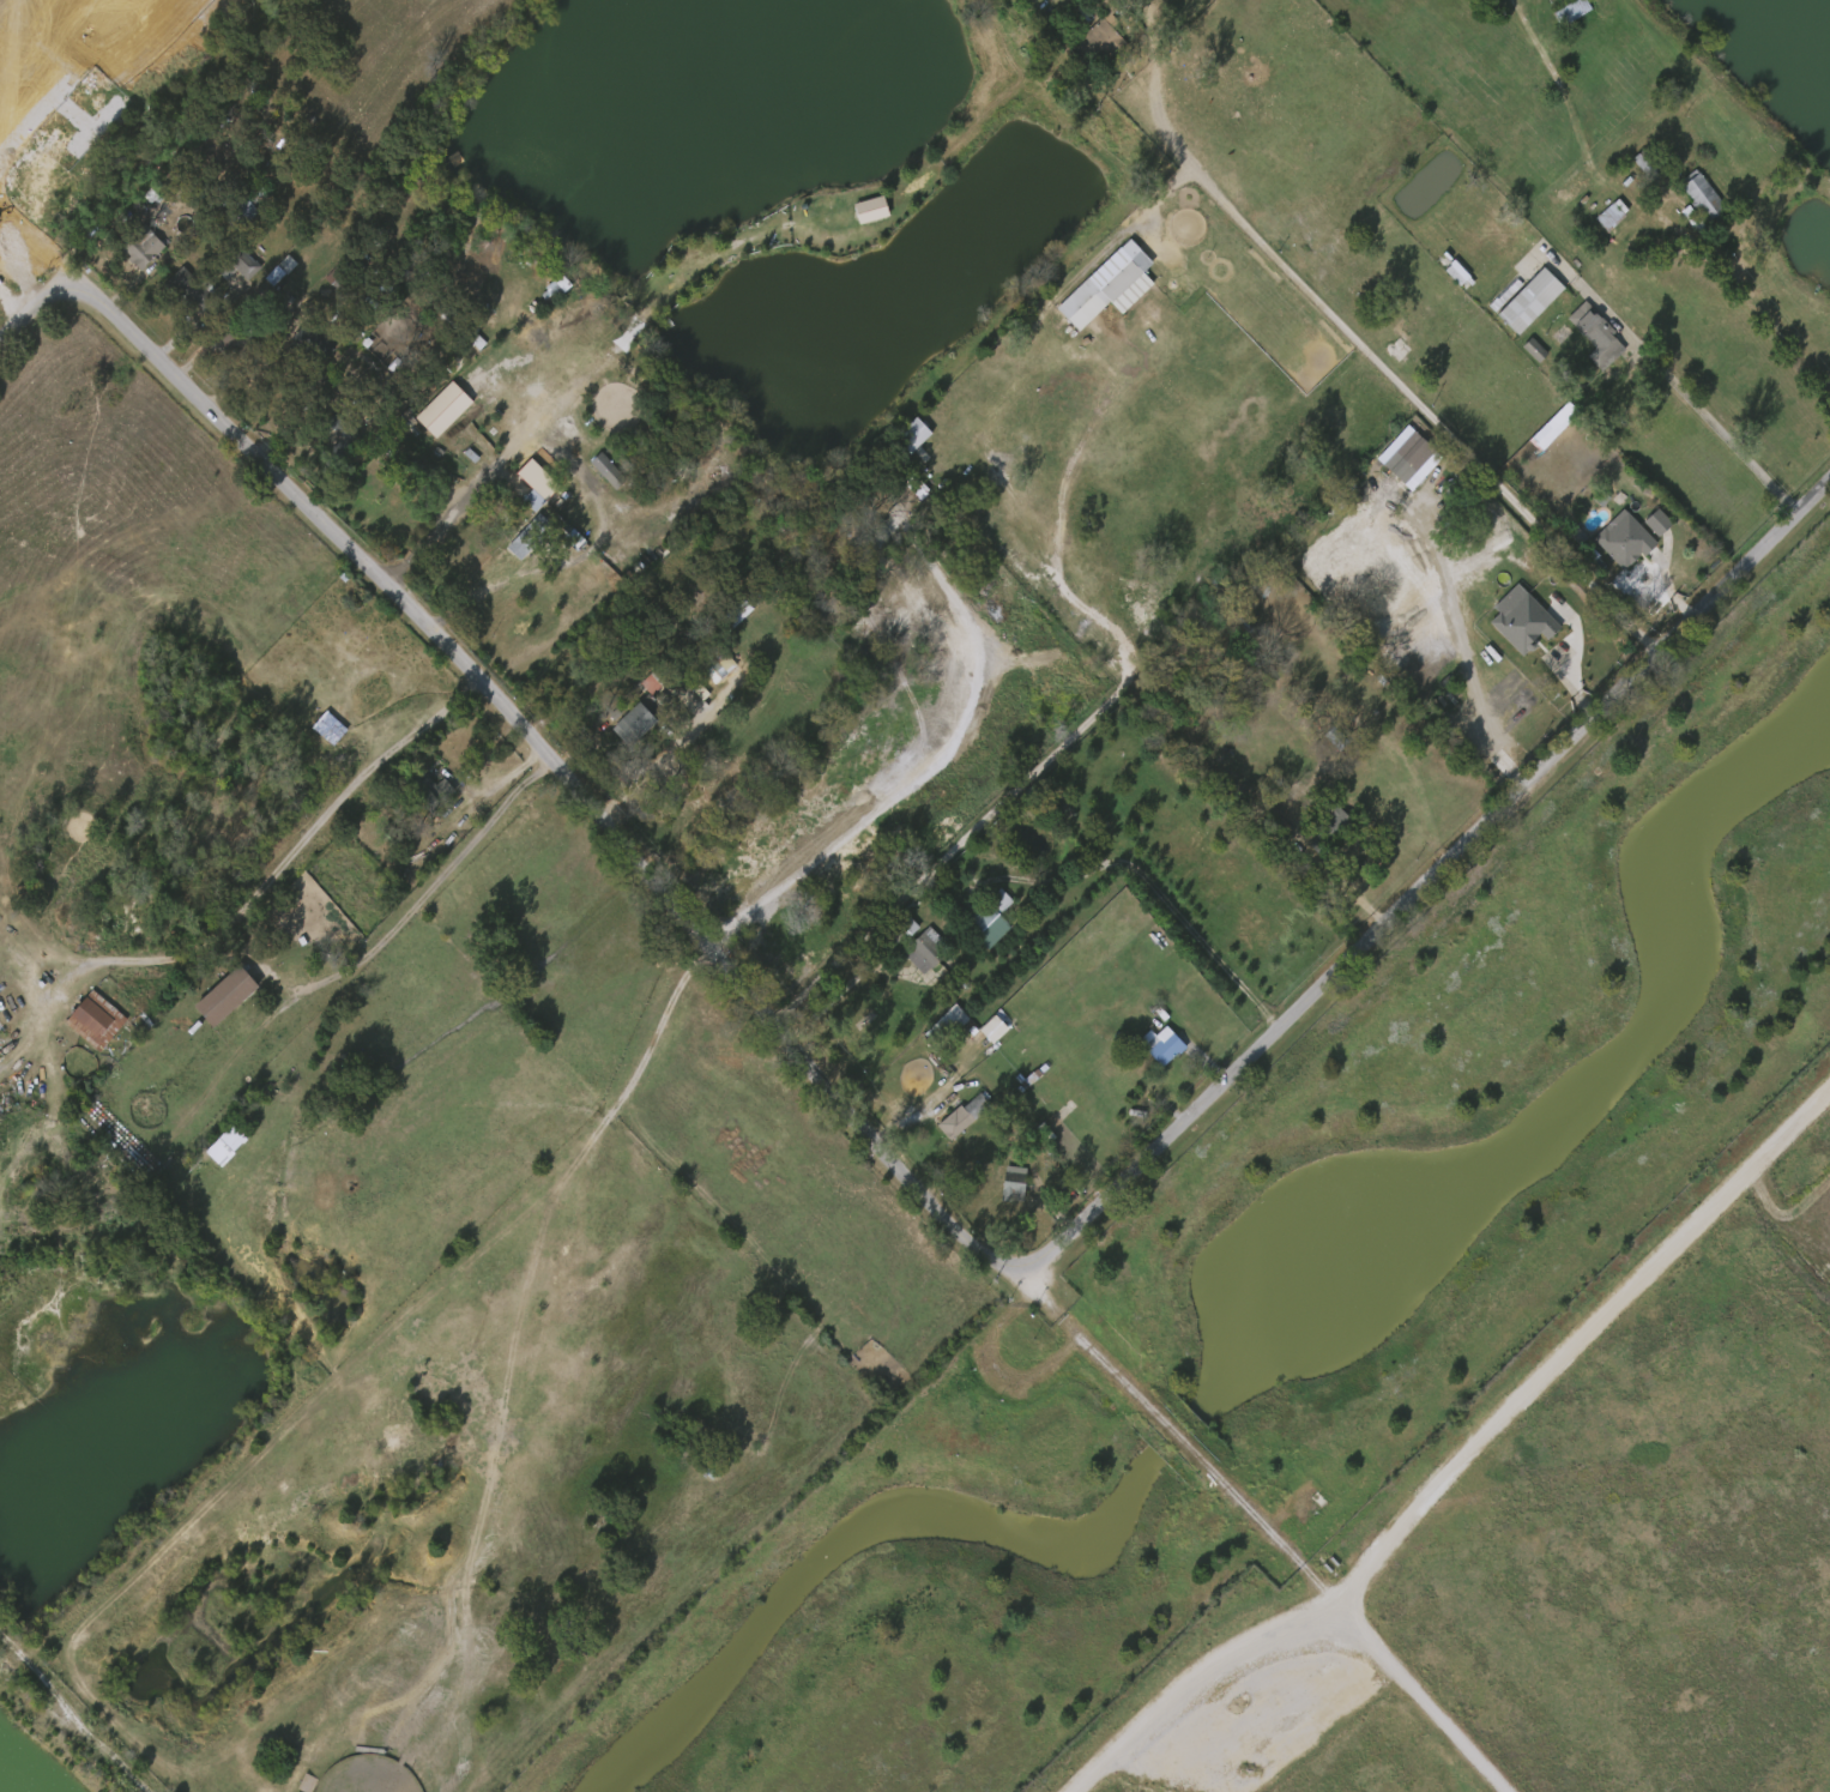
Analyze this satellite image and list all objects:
building: (1570, 11)
building: (1097, 38)
building: (1632, 162)
building: (1649, 163)
building: (1702, 195)
building: (1687, 198)
building: (244, 205)
building: (1611, 215)
building: (1598, 217)
road: (1107, 233)
building: (143, 246)
building: (131, 255)
building: (242, 263)
building: (267, 273)
building: (340, 274)
building: (1443, 276)
building: (174, 289)
building: (194, 289)
building: (1097, 289)
building: (1529, 301)
building: (1596, 336)
building: (240, 339)
building: (1582, 339)
building: (221, 344)
building: (314, 345)
road: (1345, 348)
building: (1521, 352)
building: (469, 402)
building: (454, 408)
road: (1705, 433)
building: (900, 436)
building: (344, 438)
building: (333, 445)
building: (470, 458)
building: (1394, 459)
building: (413, 470)
building: (594, 472)
building: (910, 472)
building: (517, 477)
building: (532, 479)
building: (902, 491)
building: (520, 502)
road: (433, 525)
building: (1643, 525)
building: (525, 537)
building: (1626, 538)
building: (732, 615)
building: (714, 660)
building: (654, 678)
building: (639, 717)
building: (620, 726)
building: (328, 728)
road: (523, 729)
building: (316, 730)
road: (925, 772)
building: (427, 789)
building: (1328, 828)
road: (1367, 839)
road: (1421, 870)
road: (1162, 898)
building: (985, 923)
building: (900, 930)
building: (339, 951)
building: (926, 951)
building: (912, 953)
road: (260, 959)
building: (213, 998)
road: (831, 1000)
building: (95, 1020)
building: (1161, 1045)
building: (914, 1082)
building: (1124, 1086)
building: (962, 1116)
building: (1014, 1184)
building: (999, 1185)
wastewater plant: (1384, 1381)
road: (1174, 1428)
road: (1456, 1466)
road: (1418, 1696)

